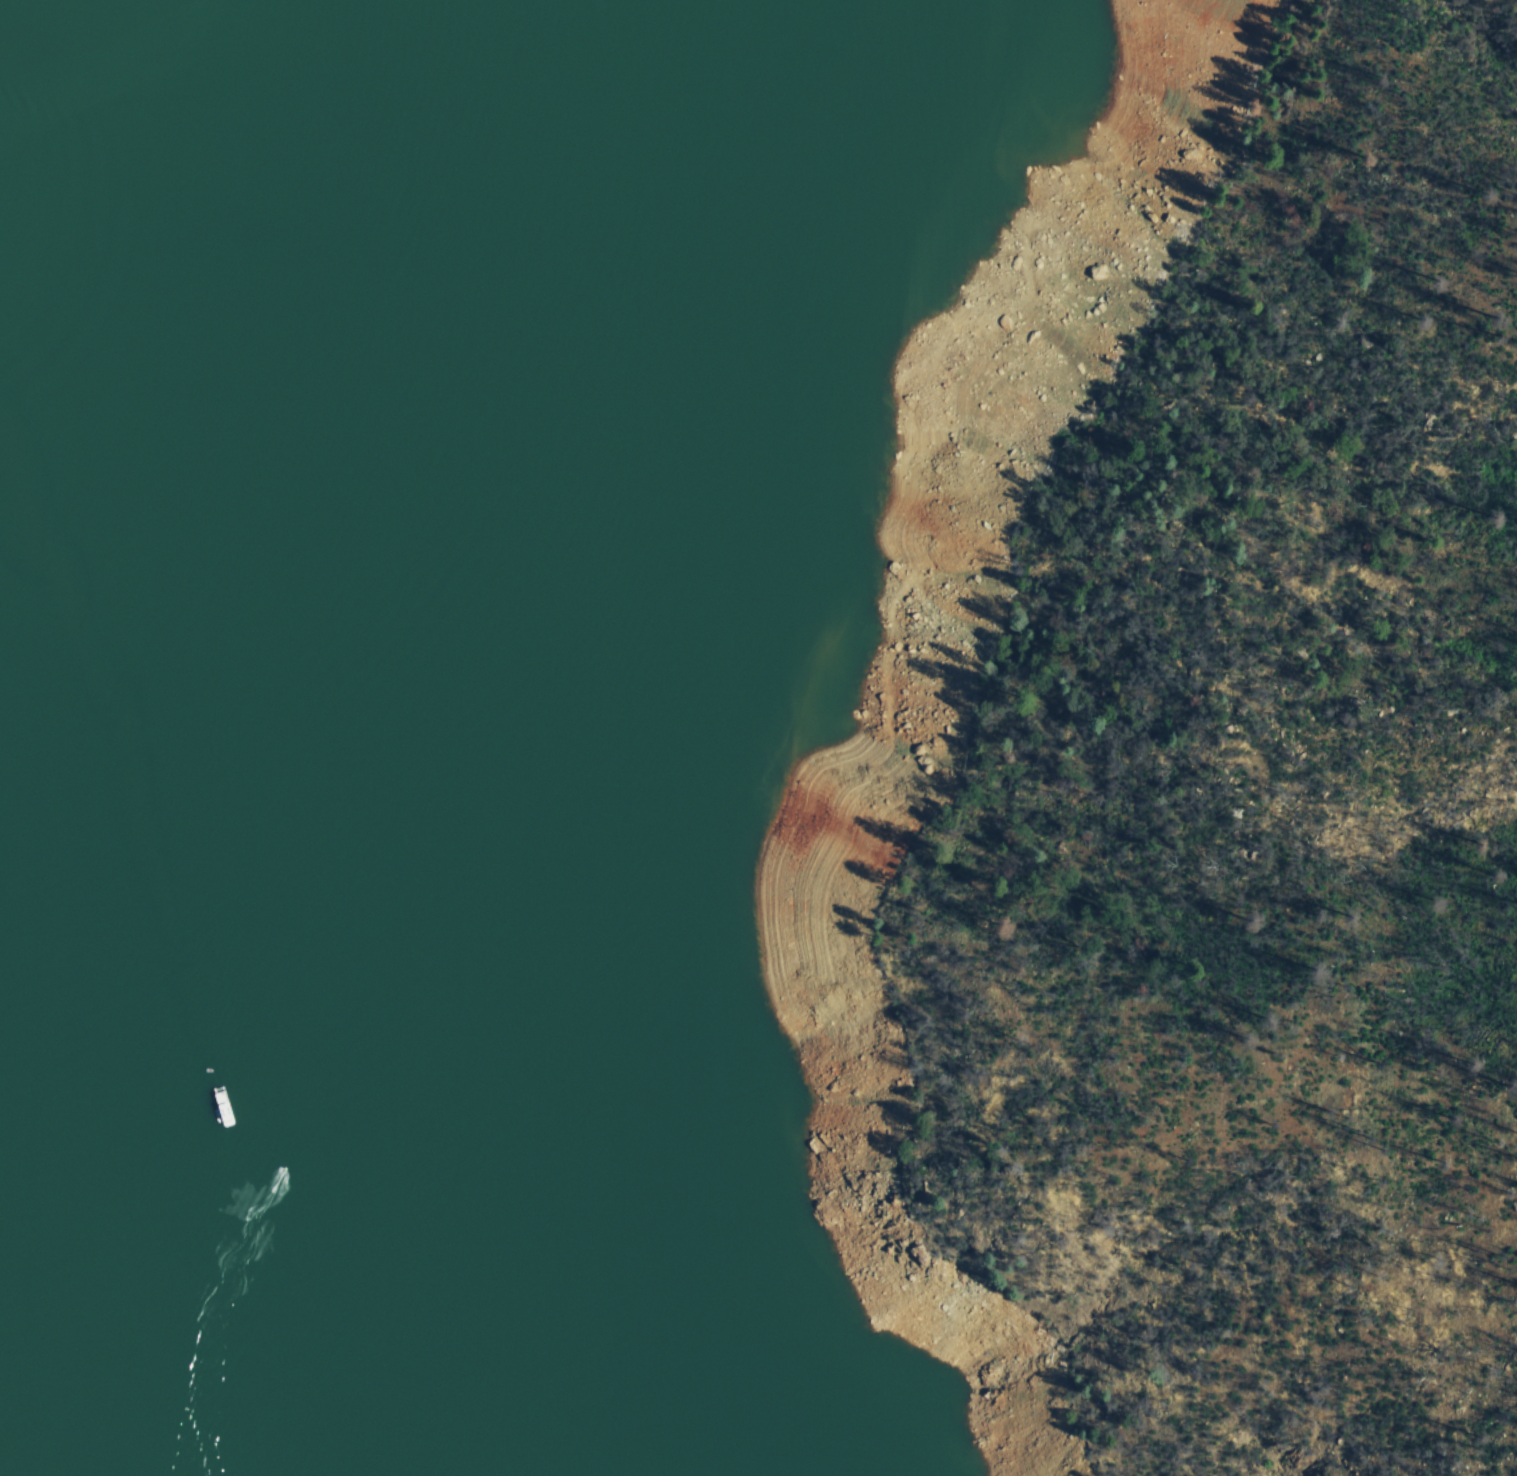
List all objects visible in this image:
river: (404, 386)
river: (81, 663)
river: (264, 1124)

